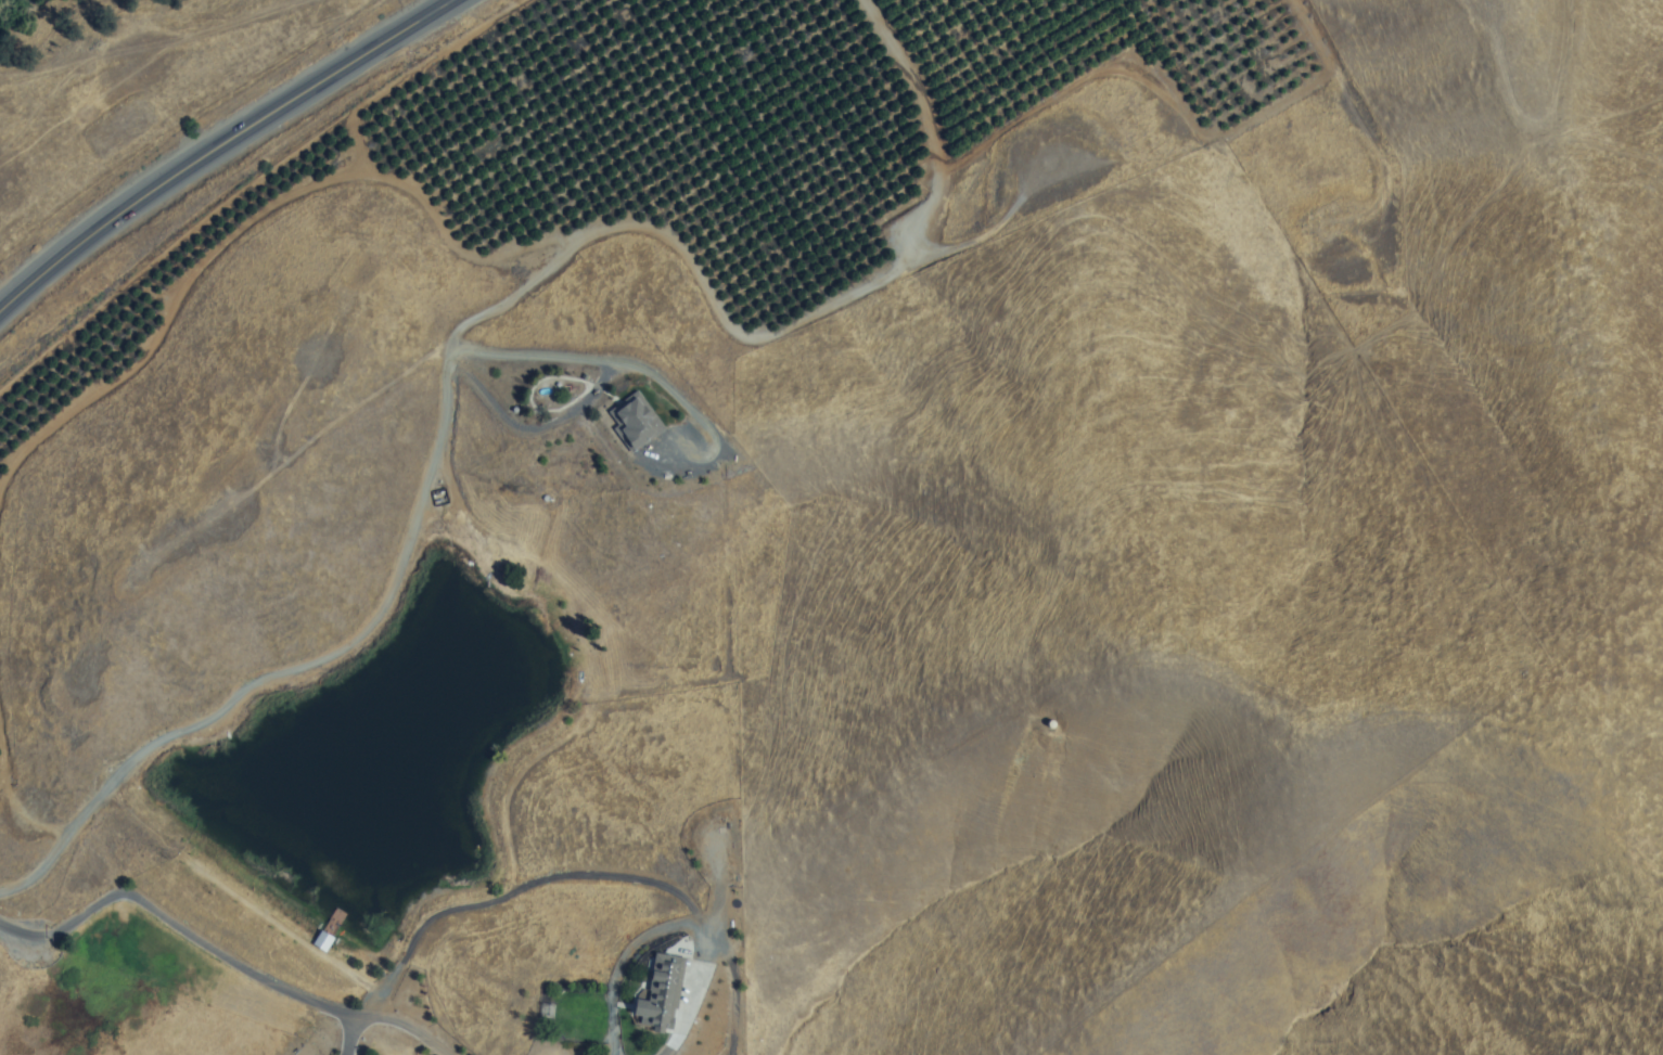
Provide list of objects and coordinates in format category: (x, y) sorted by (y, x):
road: (167, 54)
crop: (1204, 67)
crop: (168, 113)
crop: (520, 134)
road: (216, 145)
crop: (852, 149)
crop: (195, 281)
building: (635, 421)
crop: (4, 665)
road: (293, 669)
building: (662, 991)

